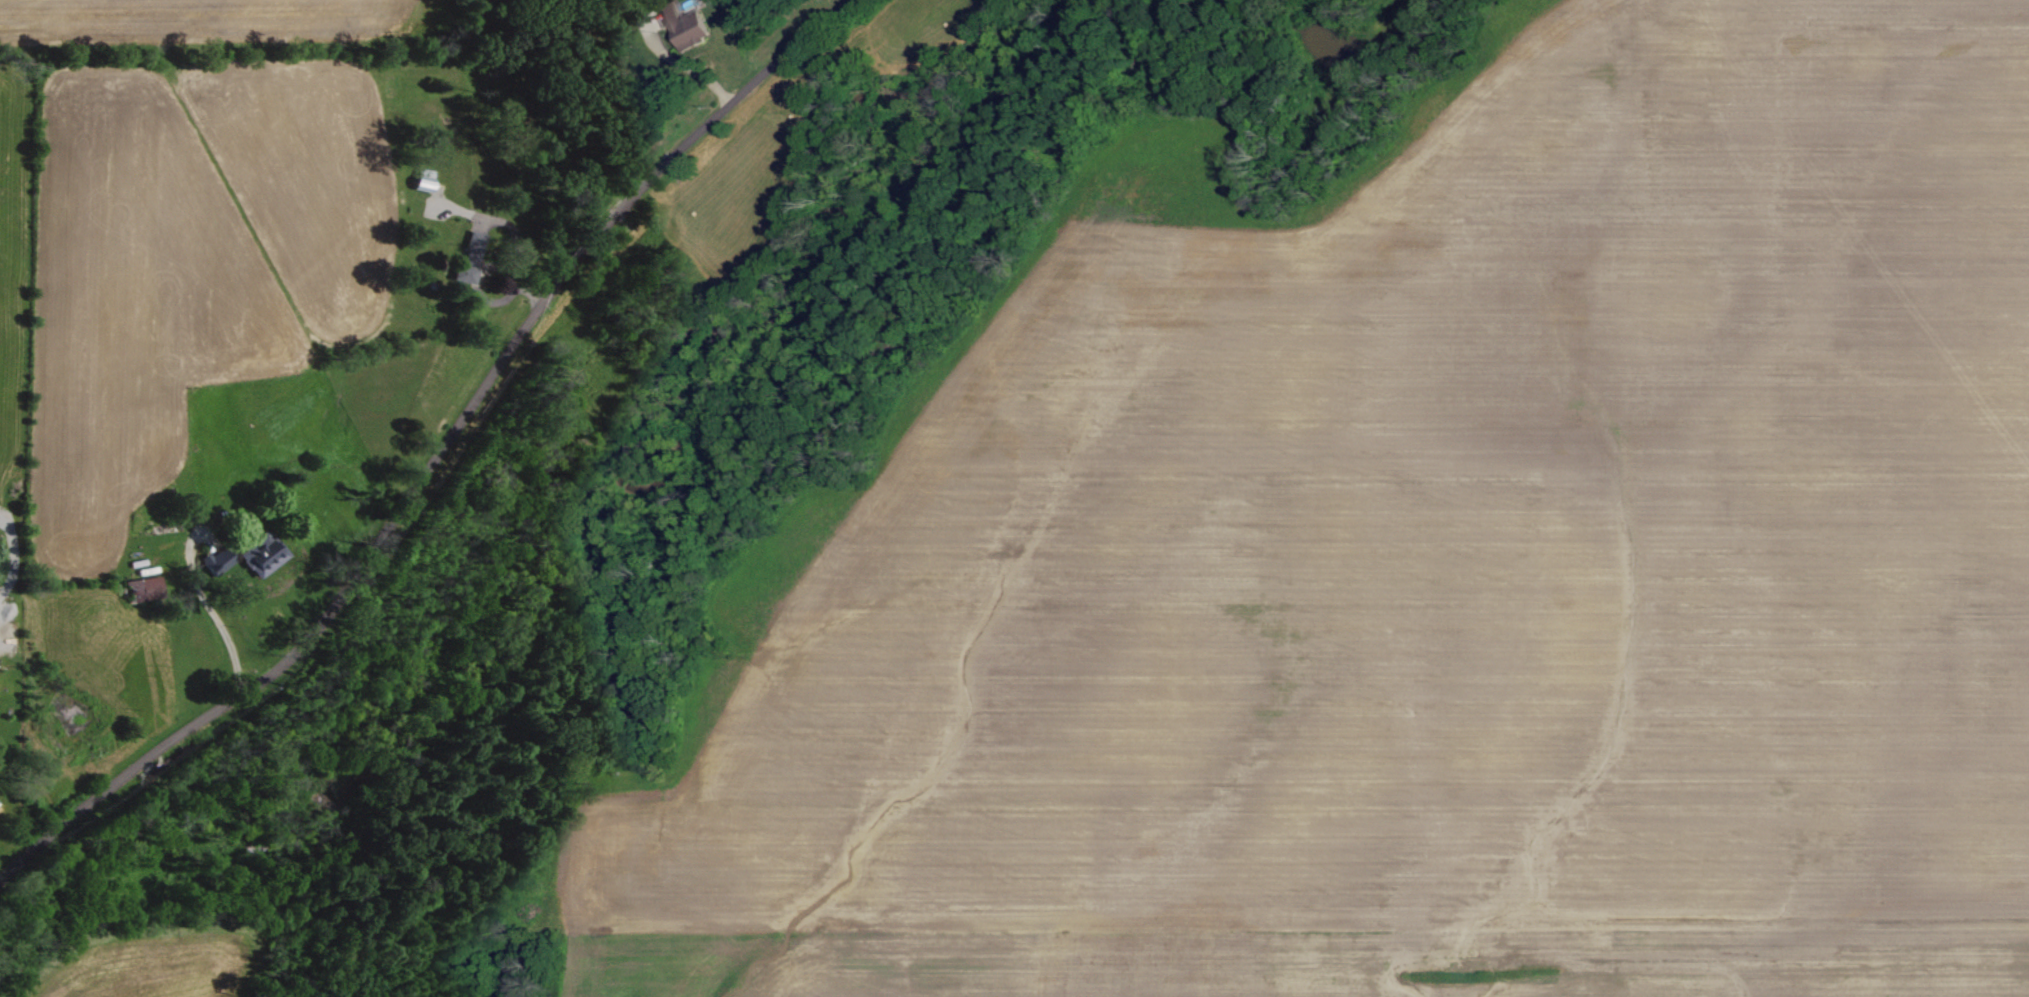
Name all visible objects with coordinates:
building: (677, 23)
road: (691, 70)
building: (472, 256)
road: (437, 454)
building: (264, 554)
building: (220, 561)
building: (146, 588)
road: (212, 611)

